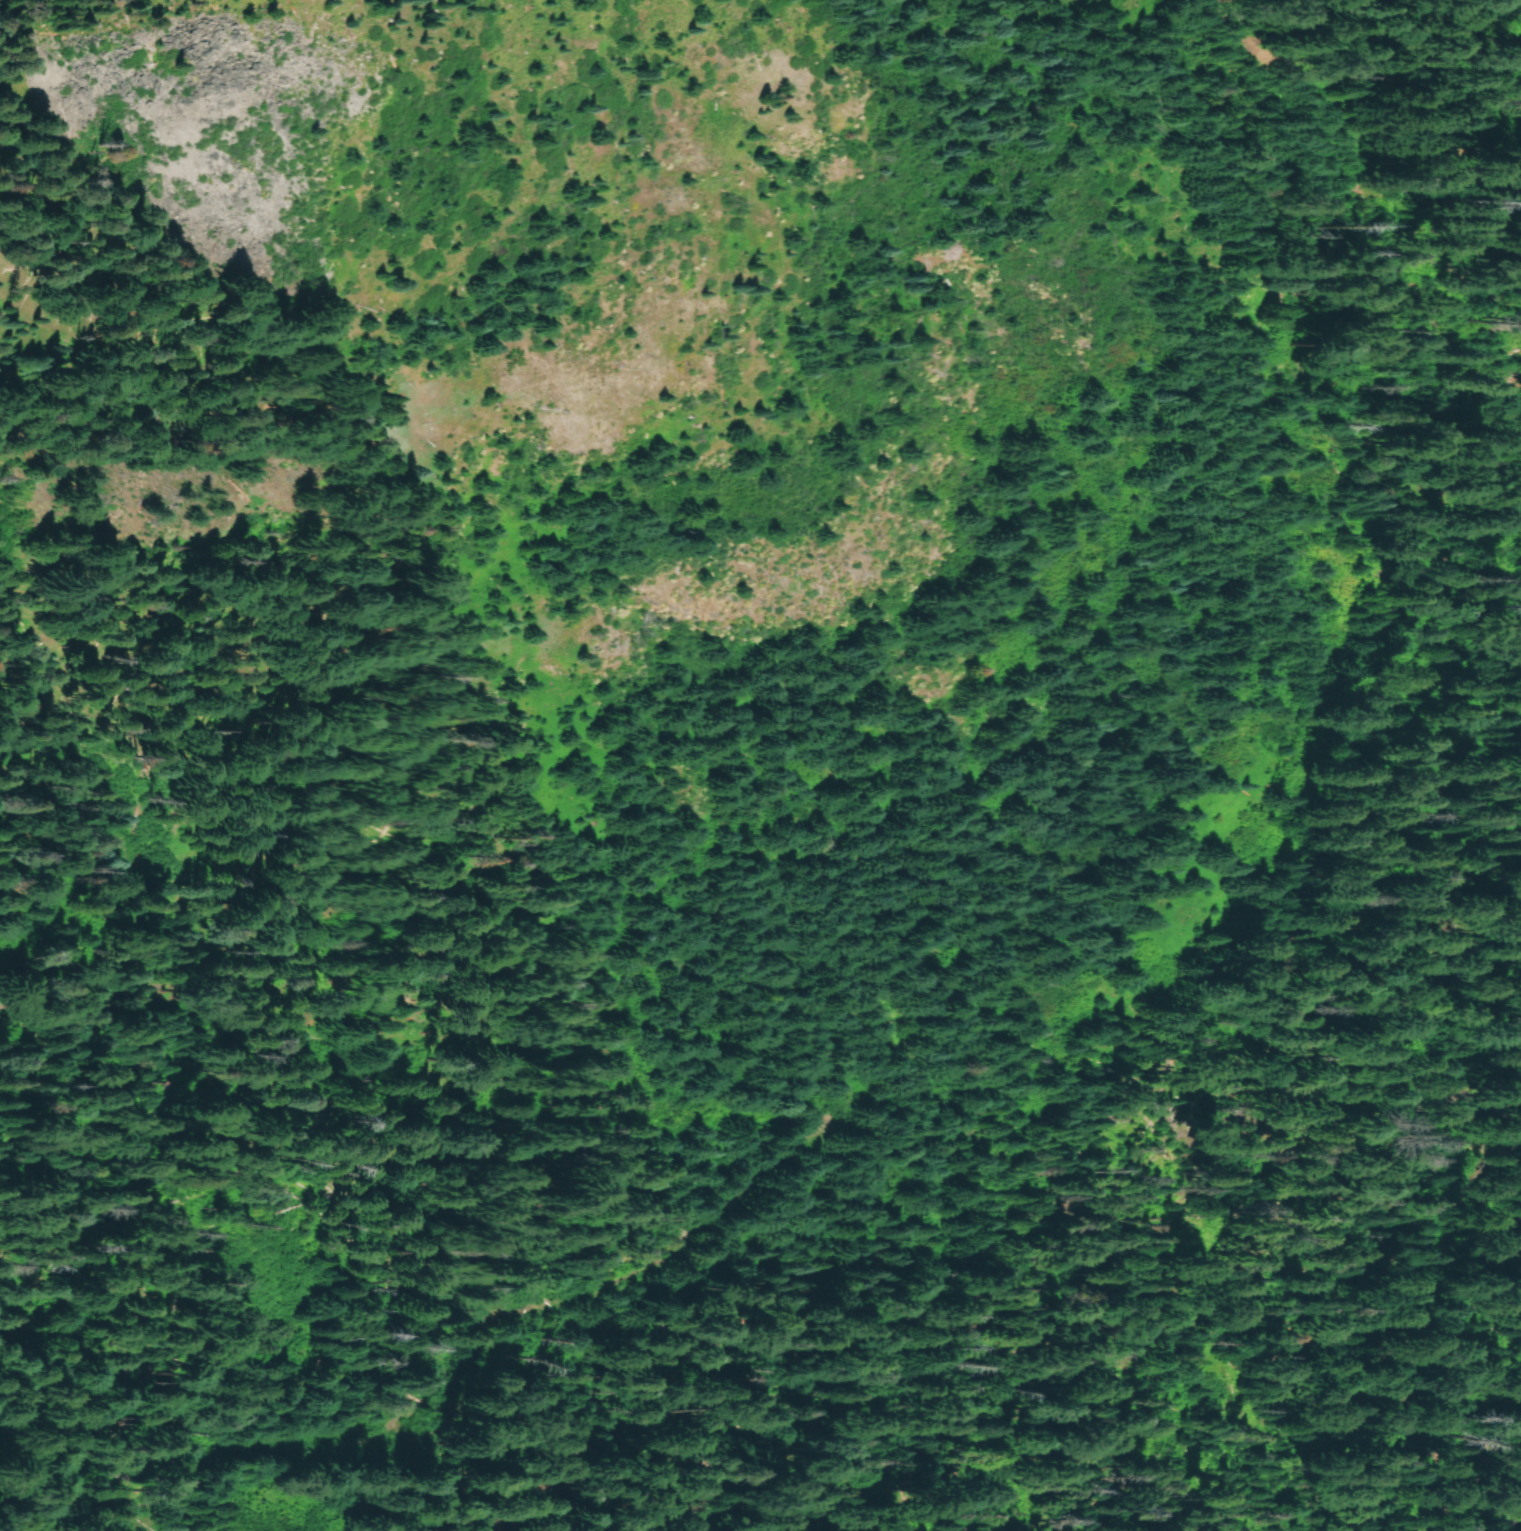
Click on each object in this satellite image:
road: (510, 1360)

